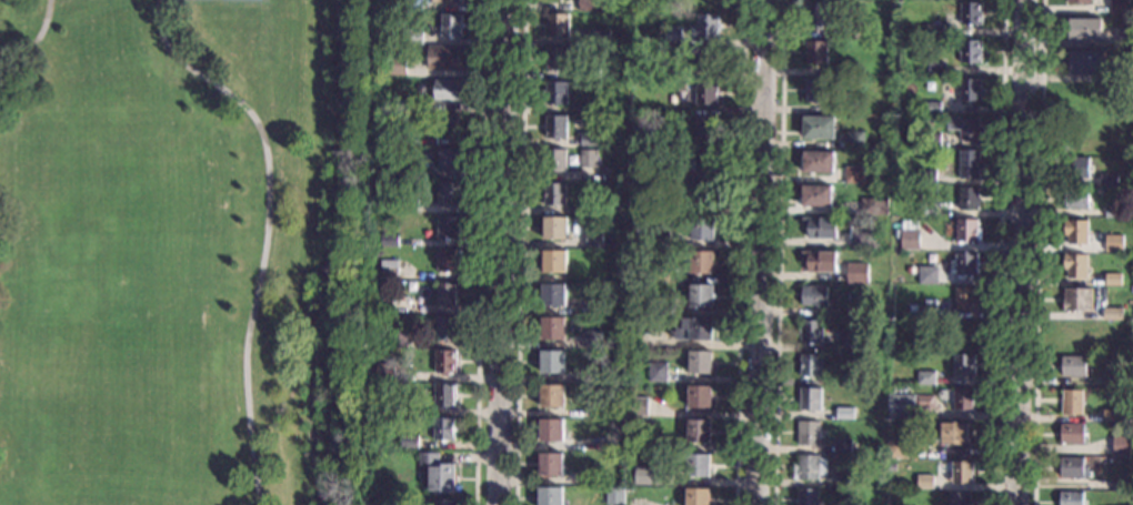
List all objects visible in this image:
building: (451, 2)
building: (1079, 2)
building: (596, 6)
building: (413, 7)
building: (1119, 8)
building: (971, 16)
building: (818, 18)
building: (625, 21)
building: (451, 24)
building: (558, 27)
building: (705, 28)
building: (1084, 30)
building: (853, 33)
building: (934, 33)
building: (831, 34)
building: (413, 36)
building: (1125, 38)
building: (600, 39)
building: (656, 39)
road: (33, 40)
building: (673, 41)
building: (970, 54)
building: (816, 55)
building: (445, 57)
building: (557, 61)
building: (706, 61)
building: (395, 64)
building: (1087, 64)
building: (846, 70)
building: (608, 71)
building: (938, 71)
building: (1126, 71)
building: (590, 73)
building: (680, 75)
building: (447, 89)
building: (970, 92)
building: (815, 93)
building: (557, 94)
building: (669, 94)
building: (705, 95)
building: (405, 108)
building: (590, 109)
building: (851, 109)
building: (933, 110)
building: (447, 125)
building: (557, 129)
building: (819, 129)
building: (705, 130)
building: (969, 132)
building: (642, 139)
building: (382, 140)
building: (604, 142)
building: (855, 142)
building: (932, 142)
building: (590, 143)
building: (590, 160)
building: (448, 162)
building: (555, 163)
building: (705, 164)
building: (819, 164)
building: (969, 166)
building: (1077, 170)
building: (659, 173)
building: (639, 176)
building: (854, 178)
building: (928, 179)
building: (1109, 183)
building: (448, 195)
building: (555, 196)
building: (705, 198)
building: (818, 198)
building: (969, 201)
building: (1076, 201)
building: (620, 208)
building: (408, 209)
building: (875, 209)
building: (673, 211)
building: (928, 212)
building: (1113, 214)
road: (267, 229)
building: (448, 229)
building: (555, 231)
building: (823, 231)
building: (703, 232)
building: (969, 234)
building: (1076, 234)
building: (909, 235)
building: (594, 241)
building: (660, 242)
building: (390, 243)
building: (861, 243)
building: (1114, 245)
park: (176, 252)
road: (479, 252)
road: (503, 252)
road: (518, 252)
road: (739, 252)
road: (762, 252)
road: (778, 252)
road: (999, 252)
road: (1023, 252)
road: (1039, 252)
building: (448, 261)
building: (557, 262)
building: (822, 263)
building: (702, 264)
building: (966, 267)
building: (1076, 267)
building: (909, 270)
building: (389, 272)
building: (660, 273)
building: (858, 275)
building: (929, 277)
building: (1113, 281)
building: (377, 285)
building: (865, 292)
building: (447, 294)
building: (555, 296)
building: (815, 296)
building: (702, 297)
building: (966, 300)
building: (1077, 301)
building: (381, 302)
building: (603, 307)
building: (665, 307)
building: (929, 312)
building: (1113, 315)
building: (445, 329)
building: (554, 330)
building: (693, 331)
building: (812, 333)
building: (399, 340)
building: (593, 341)
building: (850, 343)
building: (445, 363)
building: (553, 363)
building: (701, 363)
building: (811, 366)
building: (965, 366)
building: (1074, 367)
building: (659, 372)
building: (385, 373)
building: (613, 374)
building: (926, 380)
building: (1120, 382)
building: (844, 383)
building: (444, 395)
building: (553, 397)
building: (701, 398)
building: (964, 400)
building: (811, 401)
building: (1072, 404)
building: (900, 406)
building: (616, 408)
building: (380, 410)
building: (640, 410)
building: (845, 414)
building: (1112, 417)
building: (444, 431)
building: (552, 432)
building: (700, 433)
building: (956, 434)
building: (810, 435)
building: (1072, 435)
building: (409, 443)
building: (1122, 446)
building: (843, 447)
building: (899, 451)
building: (552, 466)
building: (700, 466)
building: (811, 468)
building: (1072, 468)
building: (438, 473)
building: (963, 474)
building: (649, 476)
building: (591, 477)
building: (845, 478)
building: (925, 484)
building: (1121, 486)
building: (551, 496)
building: (612, 496)
building: (699, 496)
building: (809, 497)
building: (961, 499)
building: (1071, 499)
building: (444, 503)

